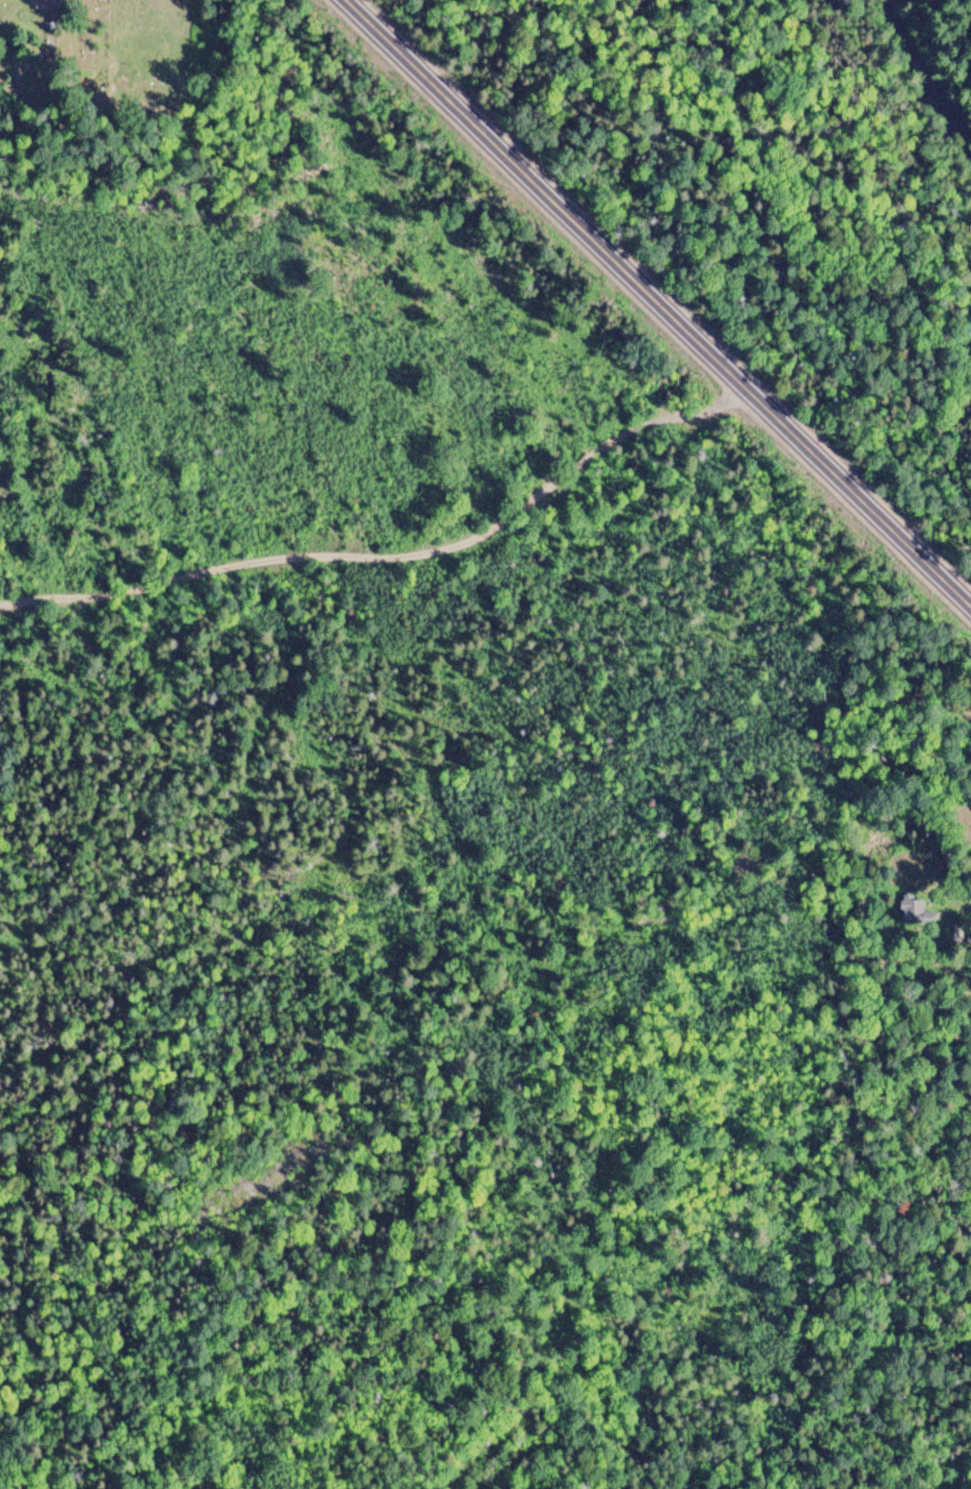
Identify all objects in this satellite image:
road: (49, 2)
park: (99, 83)
river: (933, 84)
road: (656, 302)
road: (394, 563)
building: (920, 916)

